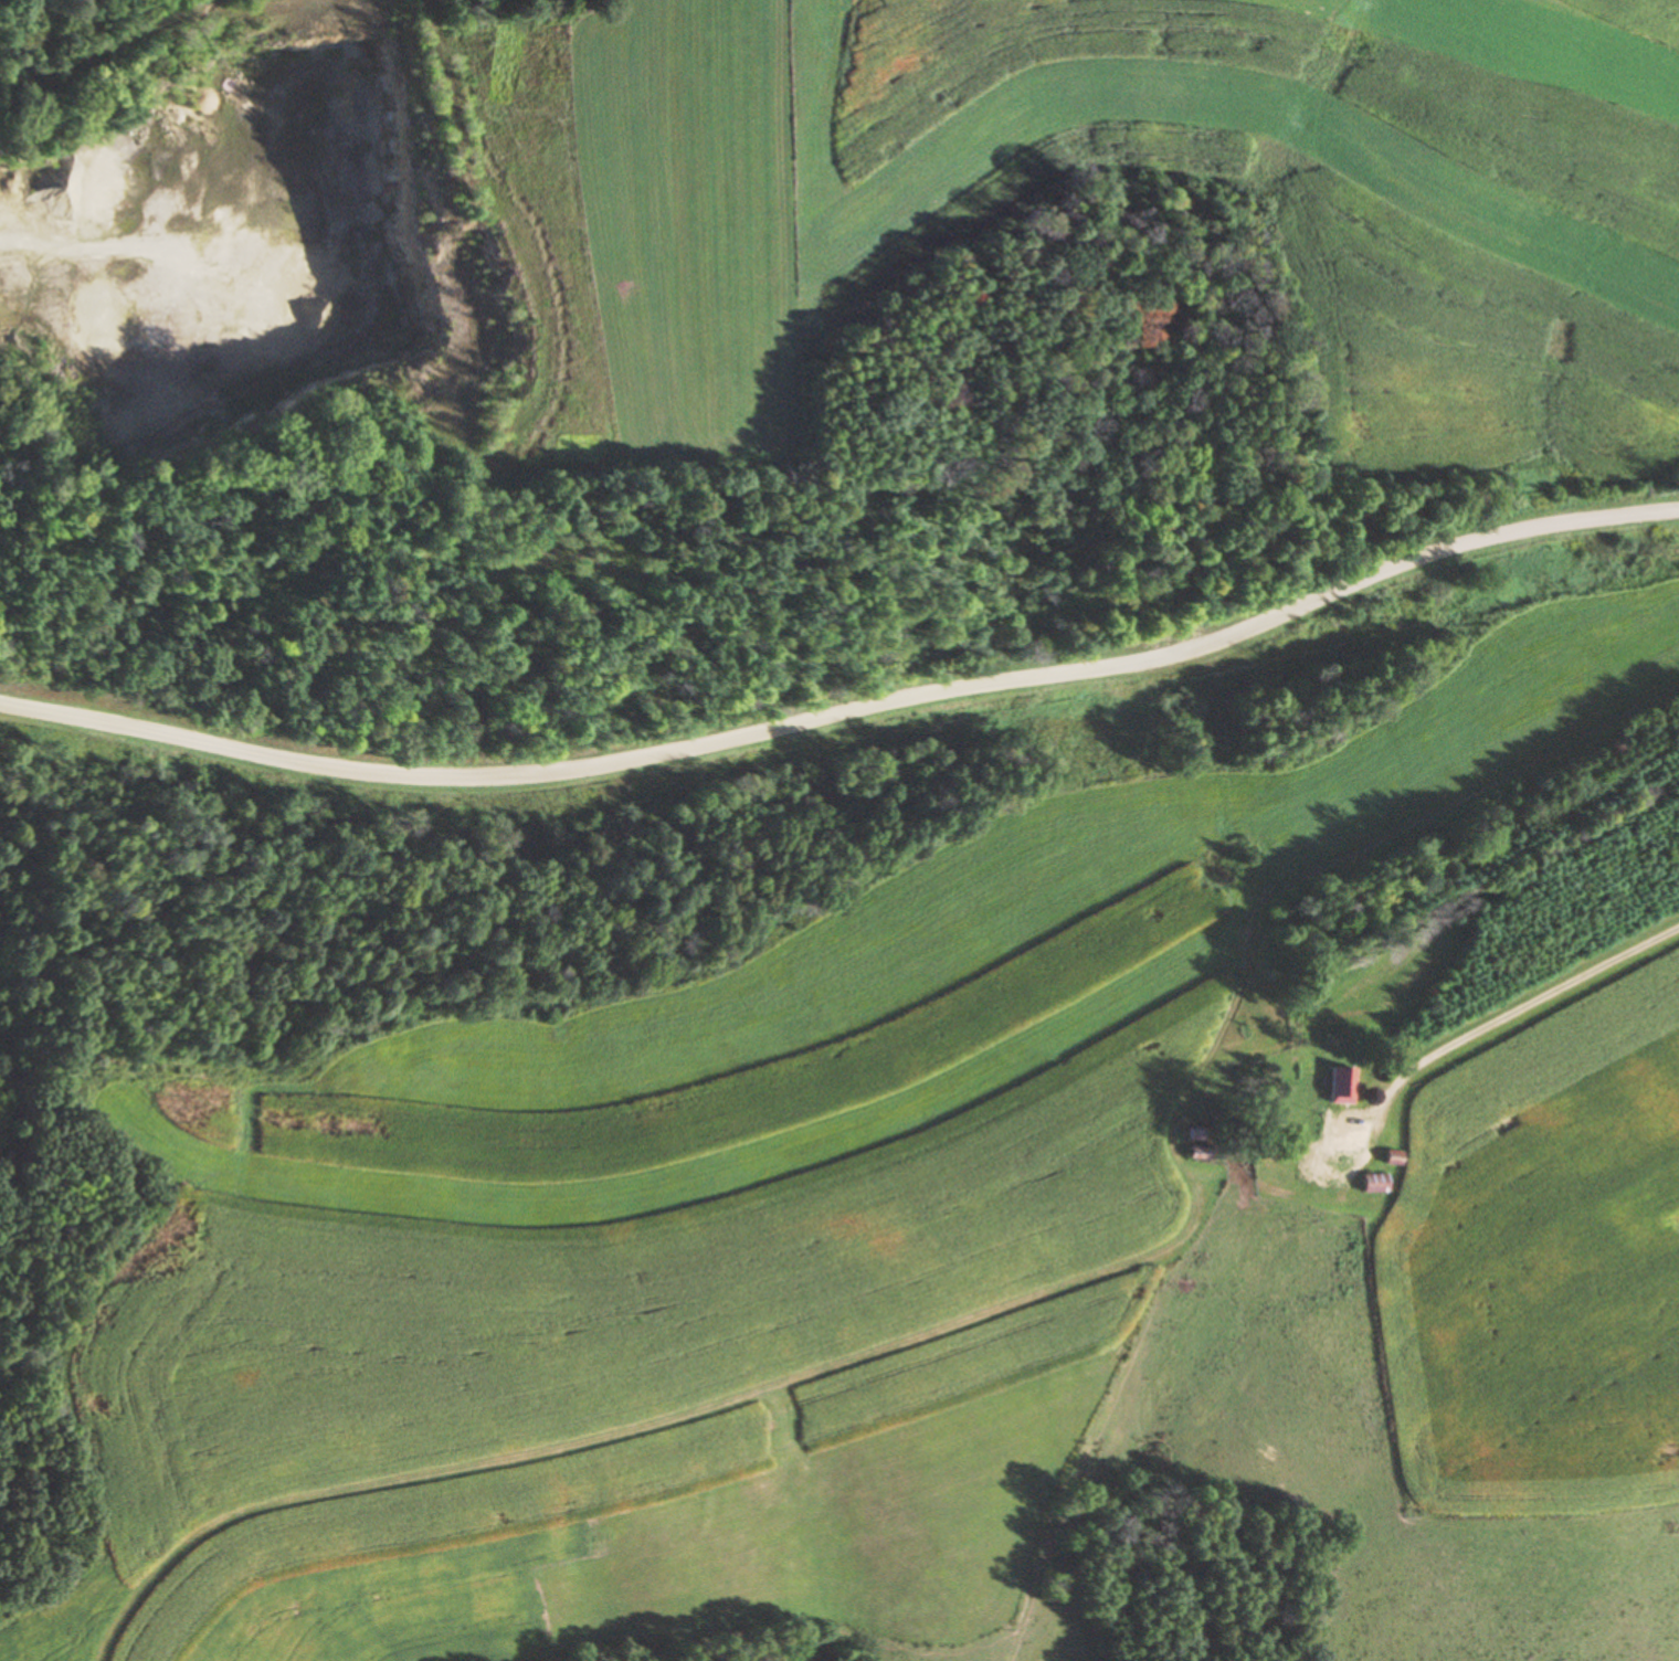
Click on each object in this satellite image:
quarry: (243, 247)
road: (848, 716)
road: (1512, 1014)
building: (1340, 1088)
building: (1390, 1159)
building: (1372, 1183)

